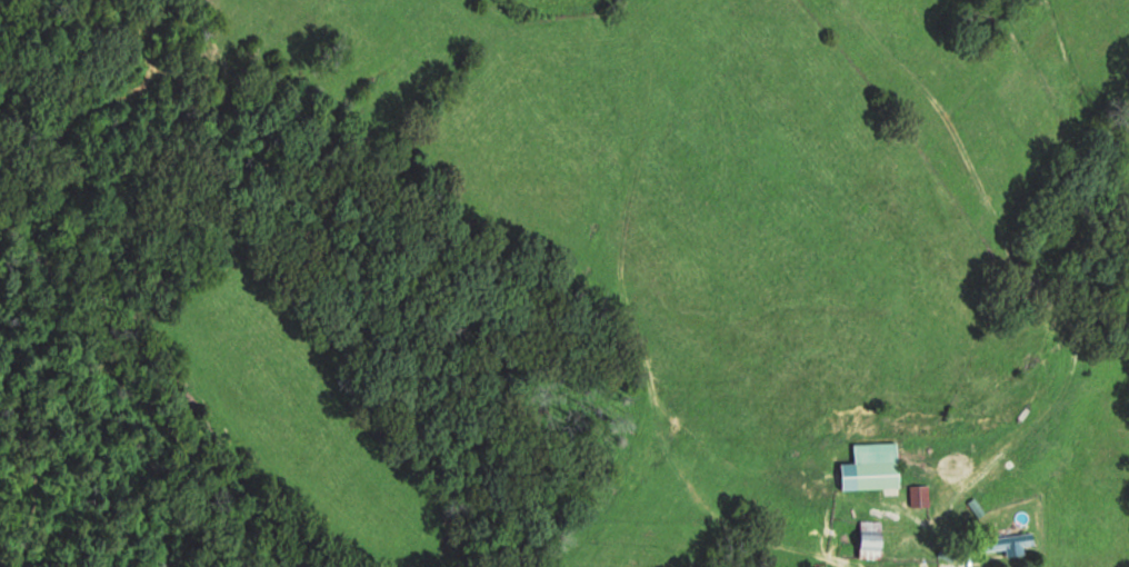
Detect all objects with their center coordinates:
building: (875, 465)
building: (918, 495)
building: (868, 538)
building: (1005, 543)

